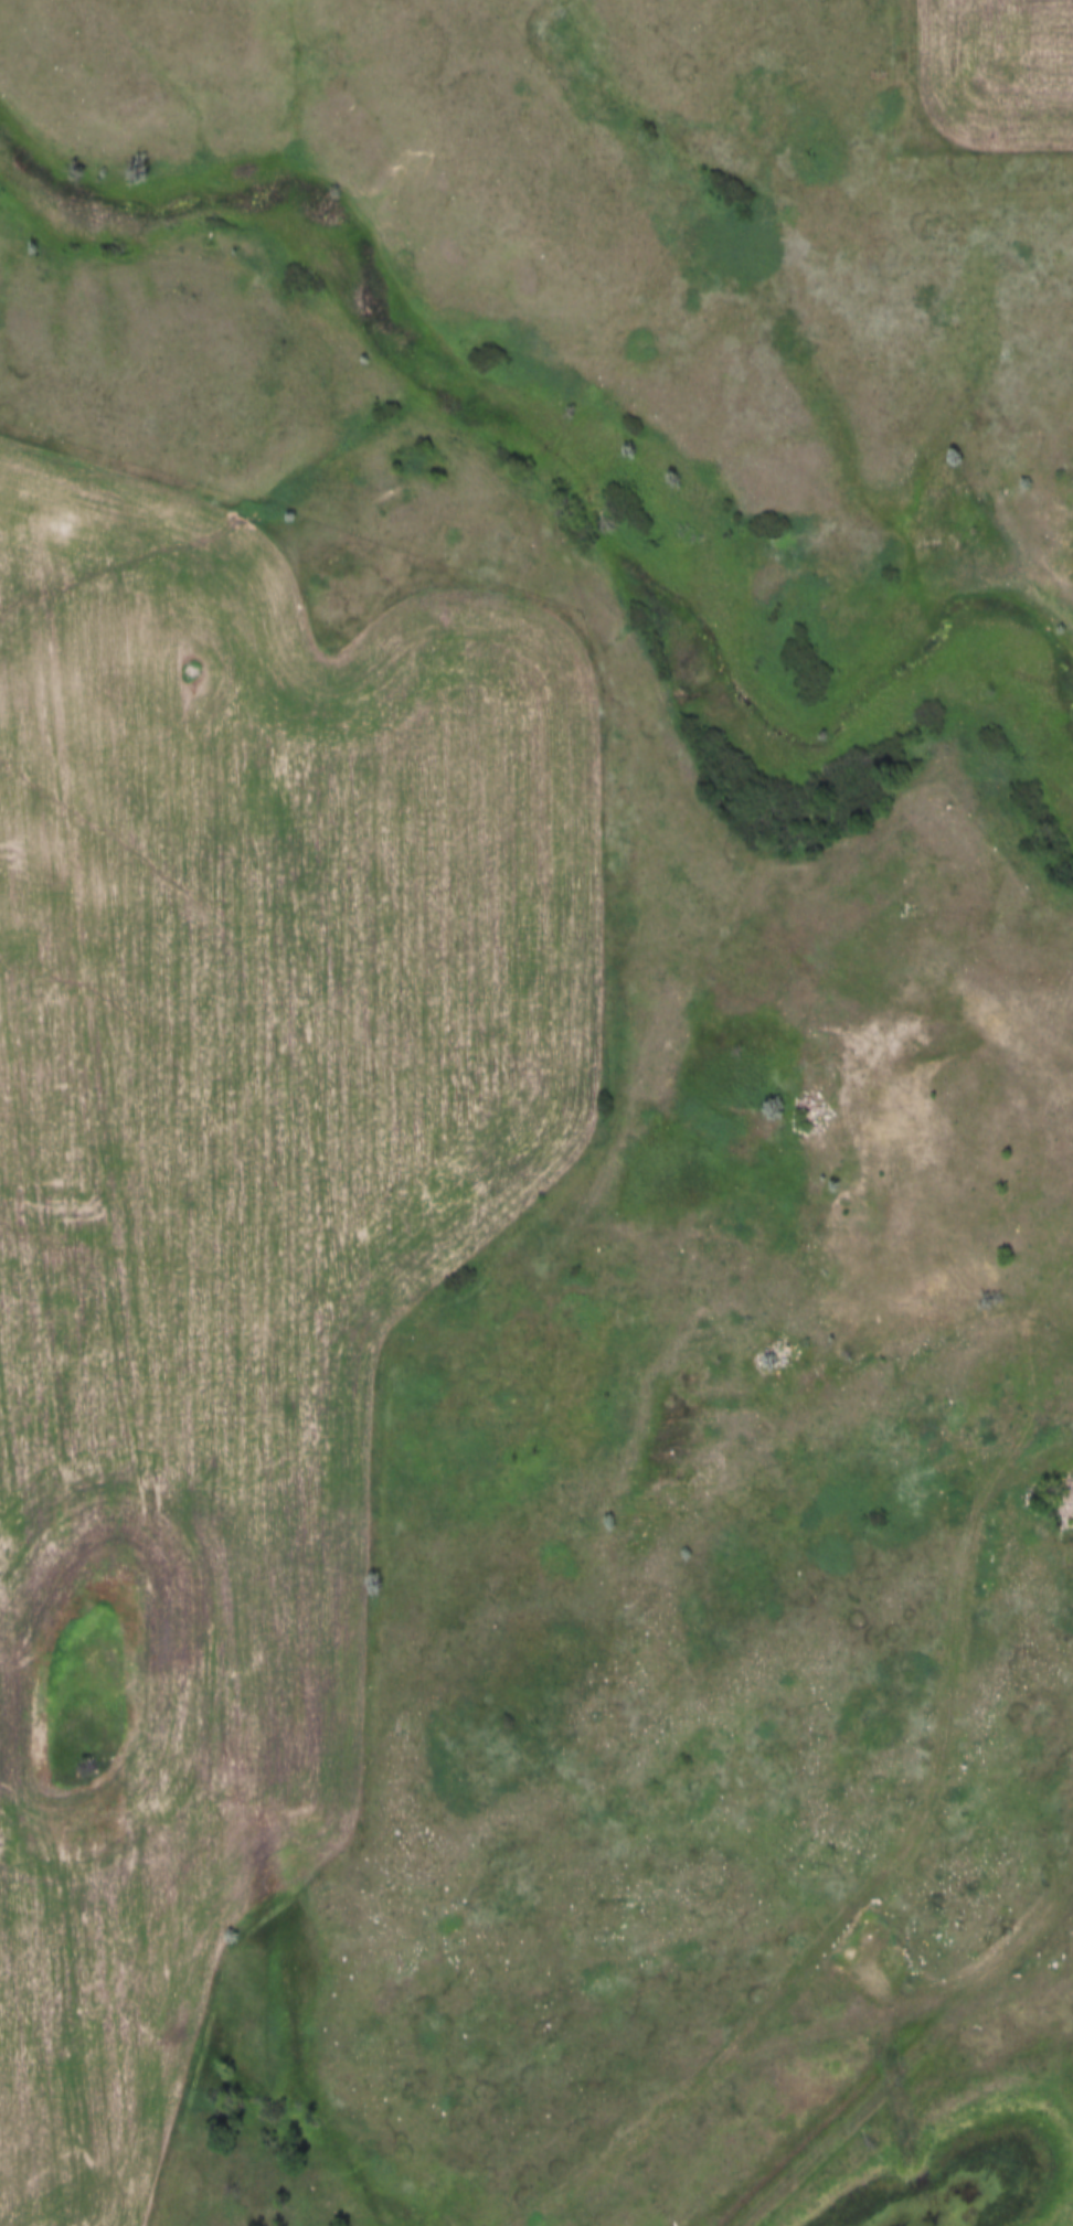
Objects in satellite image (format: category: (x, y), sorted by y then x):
road: (914, 63)
road: (1071, 1881)
road: (798, 2037)

